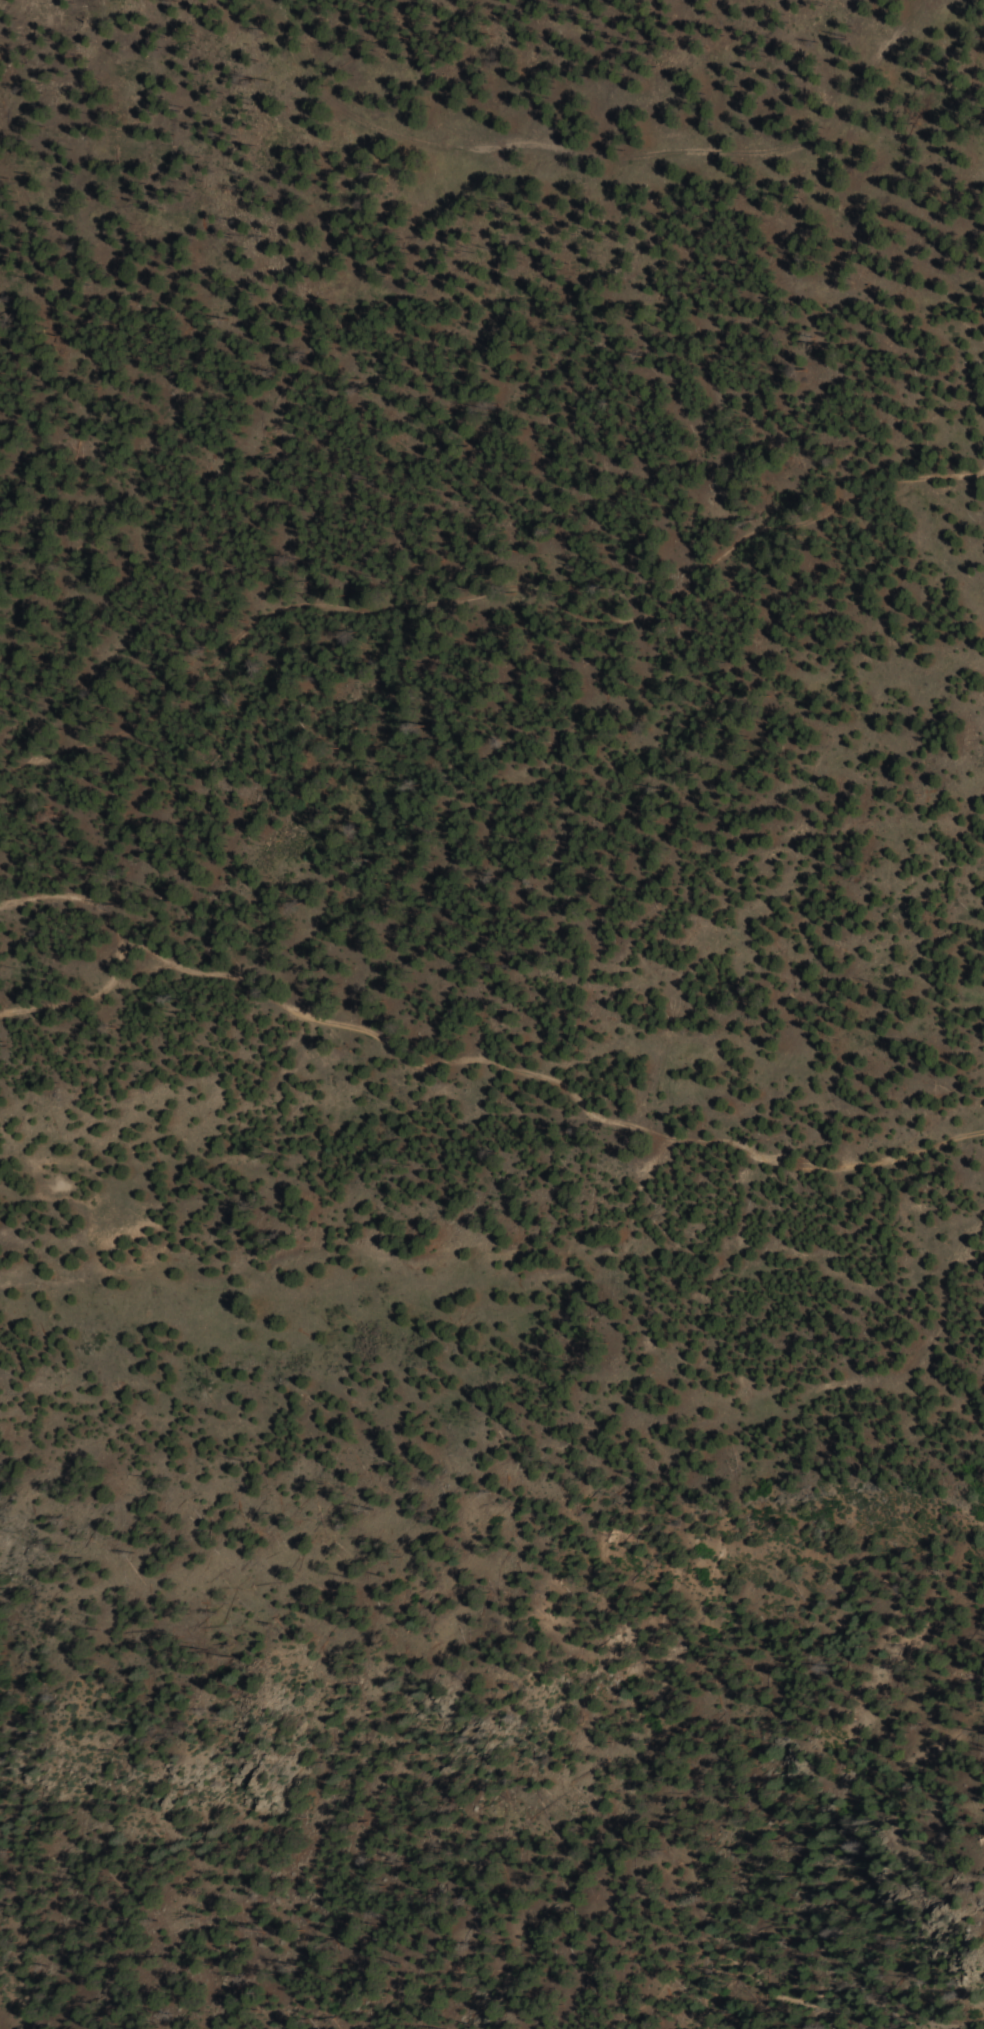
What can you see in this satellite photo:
road: (482, 603)
road: (78, 999)
road: (480, 1061)
road: (790, 1992)

